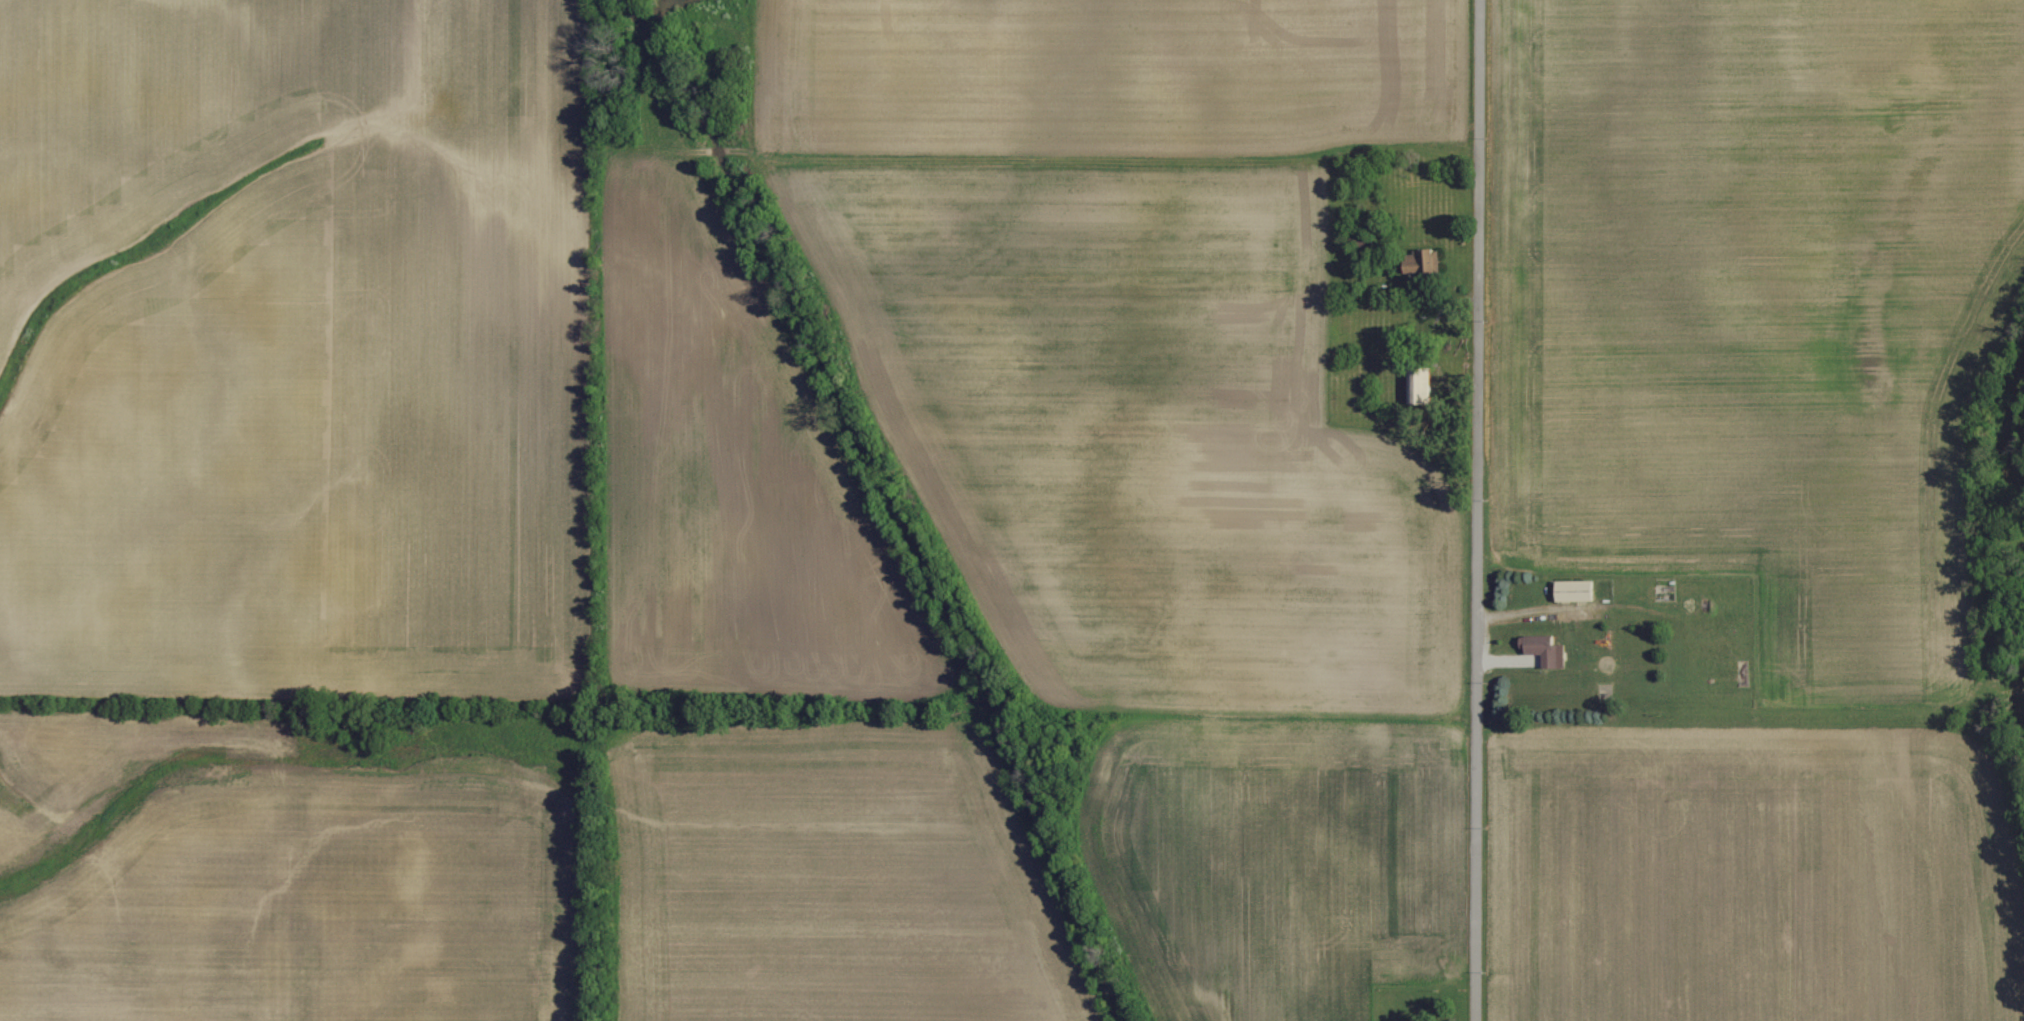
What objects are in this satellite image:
road: (1079, 156)
building: (1423, 263)
road: (1478, 510)
building: (1579, 590)
building: (1549, 649)

